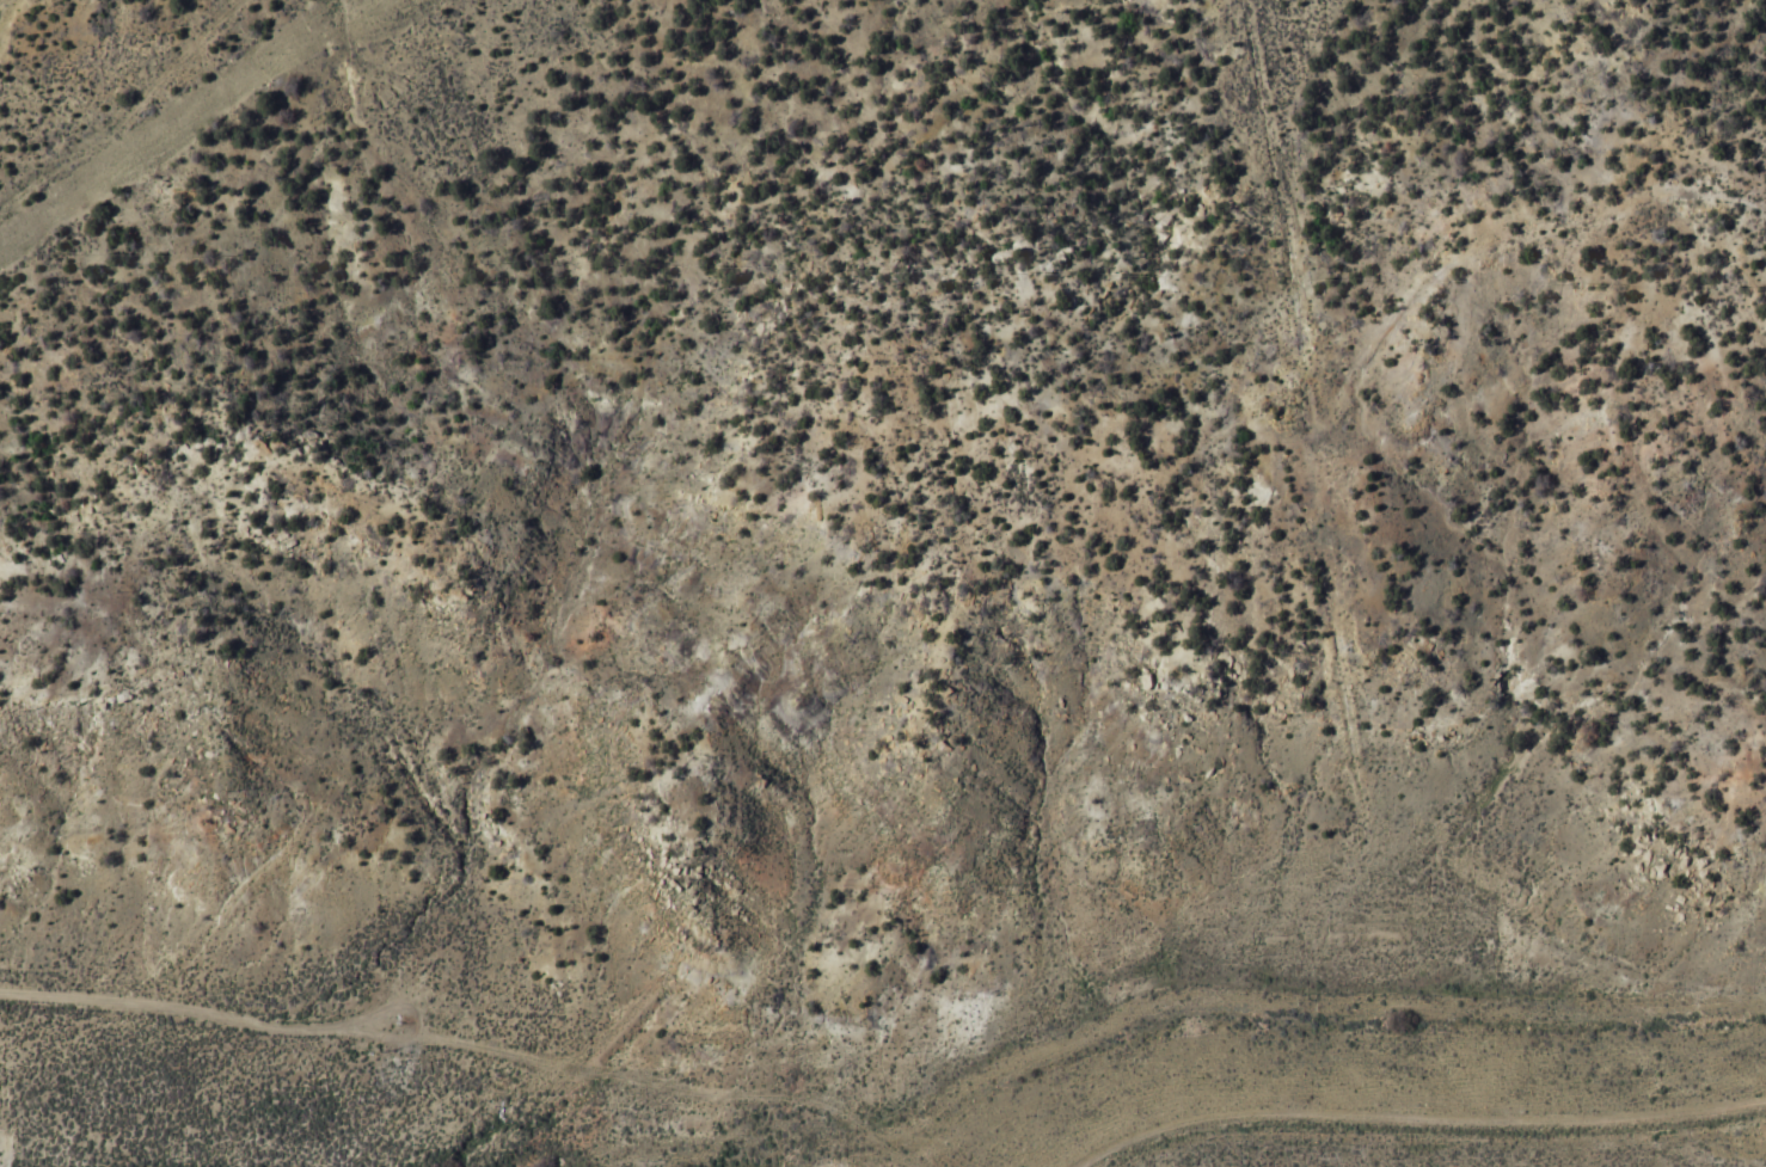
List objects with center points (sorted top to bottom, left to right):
railway: (176, 122)
road: (1419, 1118)

